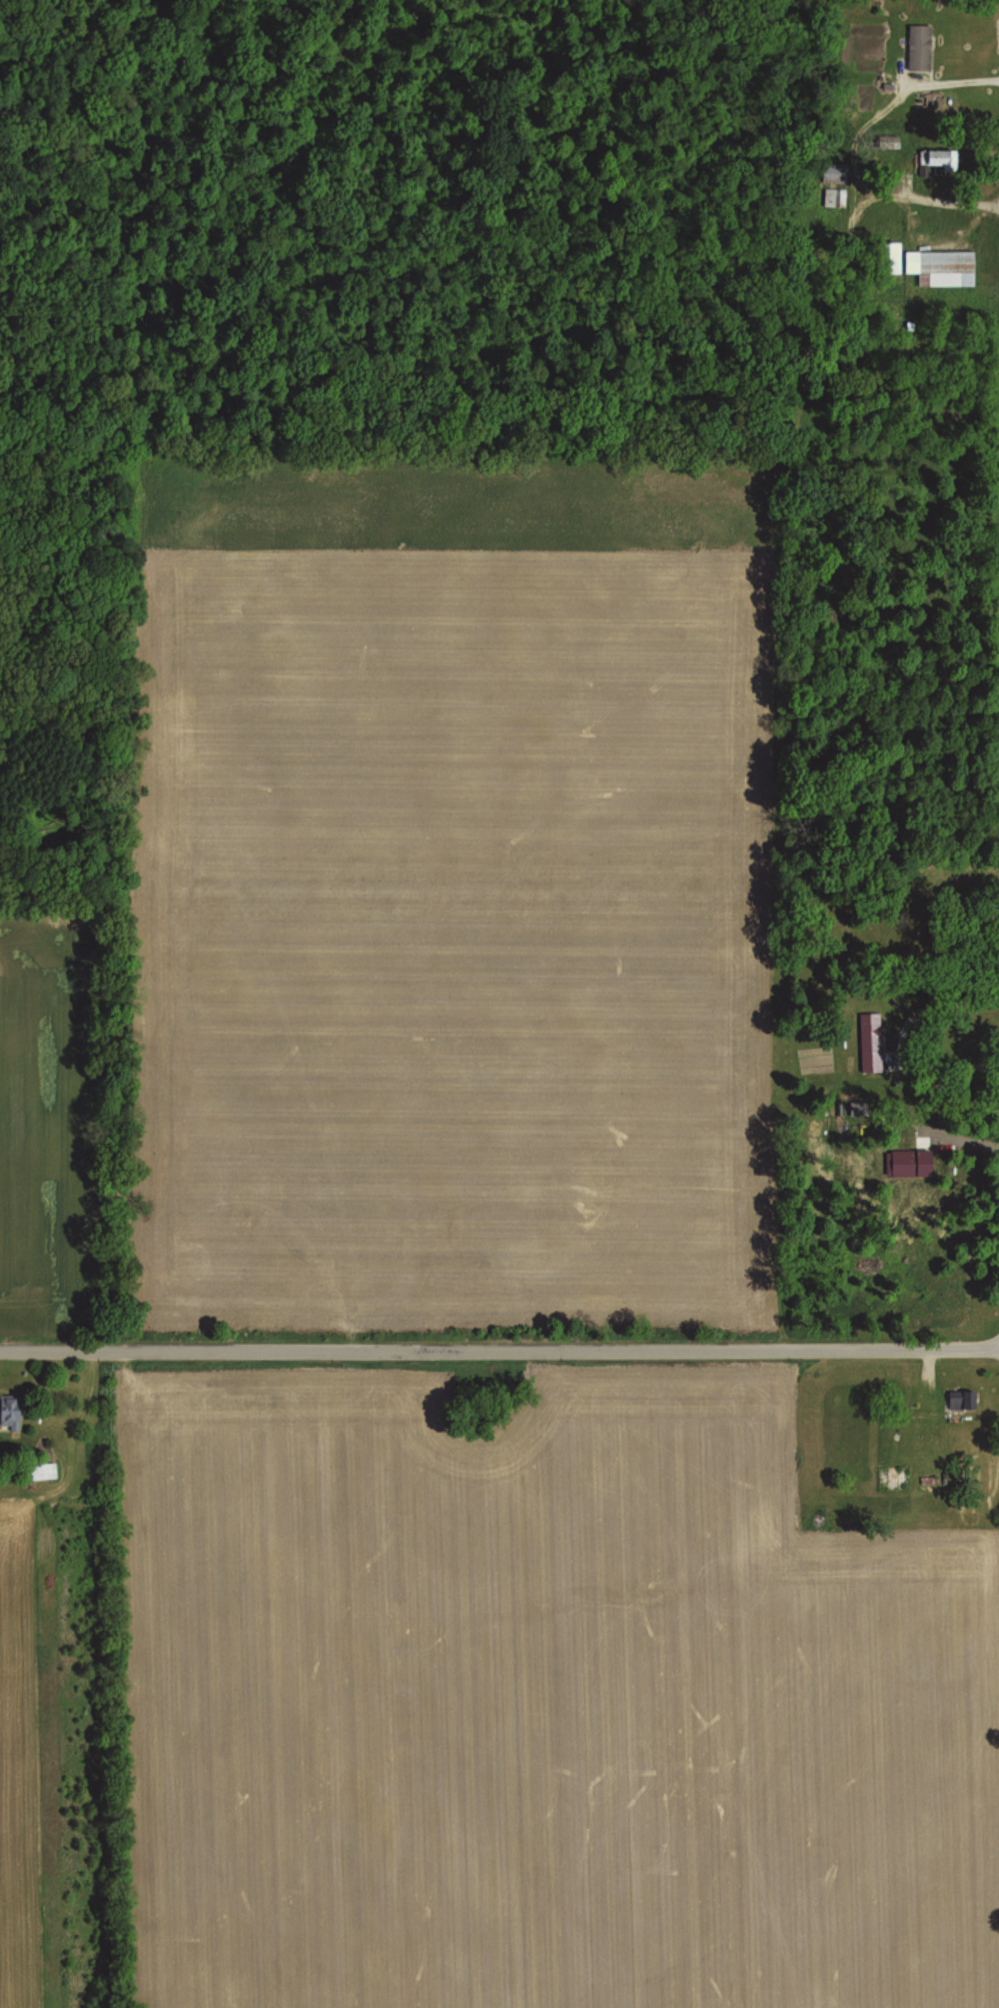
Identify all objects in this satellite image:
building: (919, 48)
building: (892, 143)
road: (859, 148)
building: (936, 162)
building: (832, 173)
building: (832, 199)
building: (887, 256)
building: (941, 267)
crop: (460, 930)
road: (904, 1033)
building: (872, 1043)
building: (848, 1096)
building: (836, 1109)
building: (859, 1109)
crop: (40, 1118)
building: (908, 1163)
road: (499, 1348)
building: (963, 1398)
building: (8, 1411)
building: (36, 1471)
building: (888, 1478)

